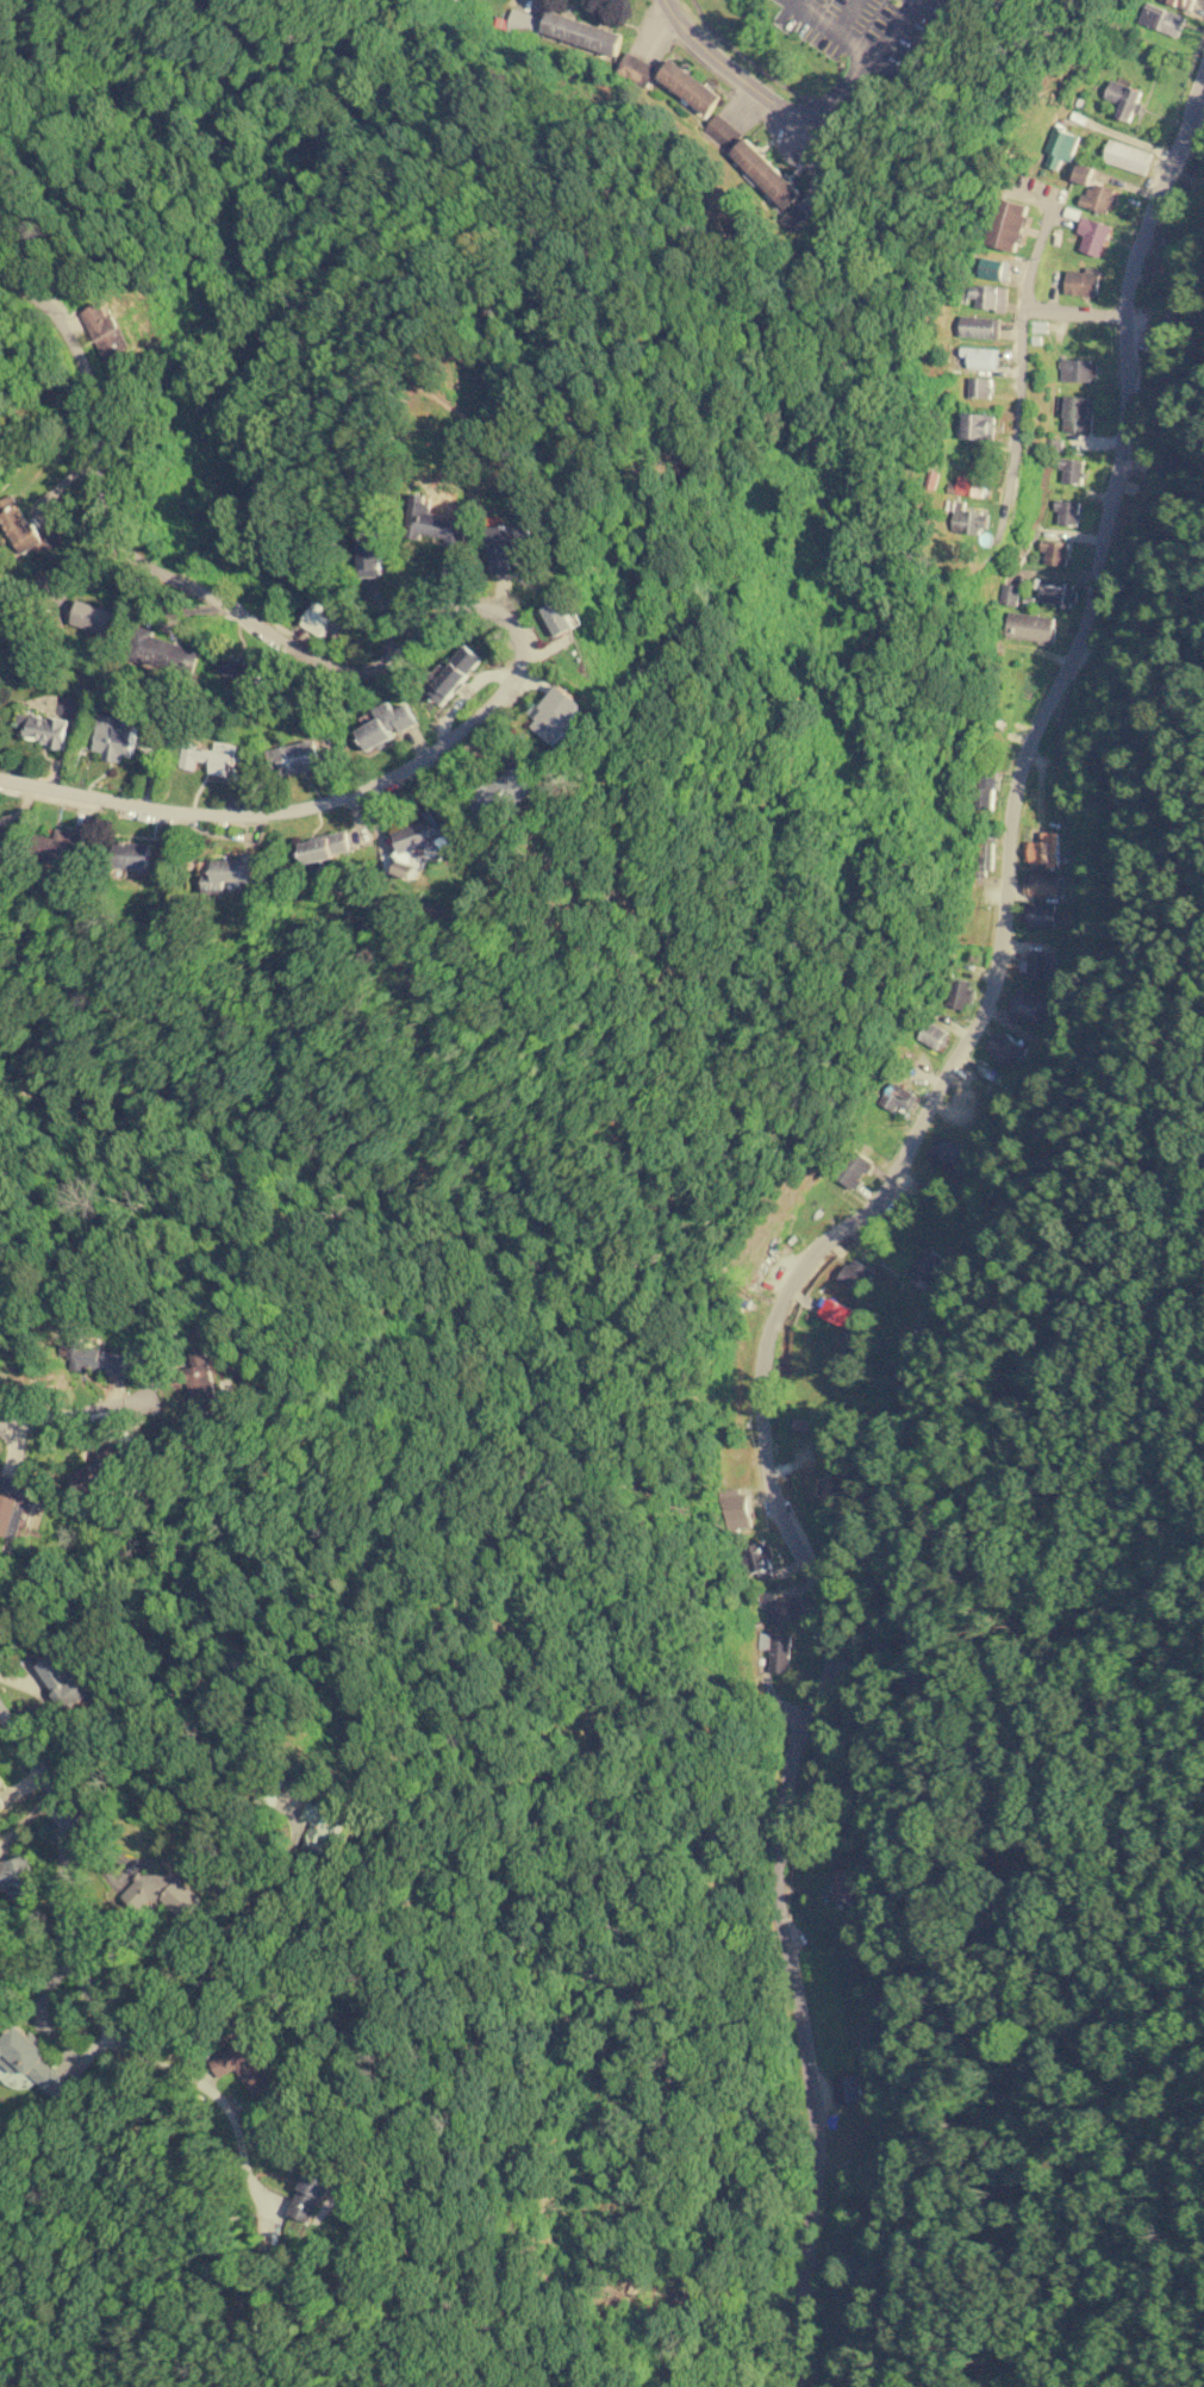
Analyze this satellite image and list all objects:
building: (1181, 2)
building: (1161, 19)
building: (524, 24)
building: (581, 32)
building: (635, 68)
building: (688, 86)
building: (1123, 99)
road: (793, 114)
building: (722, 132)
building: (1059, 147)
building: (766, 173)
building: (1093, 189)
building: (793, 218)
building: (1006, 224)
building: (1092, 235)
building: (991, 268)
building: (1081, 282)
building: (988, 297)
road: (1022, 308)
building: (979, 326)
building: (110, 336)
building: (979, 357)
building: (1078, 370)
building: (979, 387)
building: (1075, 413)
building: (979, 426)
road: (1018, 431)
building: (1071, 469)
building: (1066, 511)
building: (965, 519)
building: (430, 521)
building: (29, 529)
building: (506, 543)
building: (1055, 551)
building: (372, 556)
building: (1050, 591)
building: (1009, 594)
road: (218, 604)
building: (317, 615)
building: (557, 617)
building: (92, 618)
building: (1030, 627)
building: (161, 652)
building: (241, 668)
building: (454, 674)
building: (555, 715)
building: (386, 724)
building: (43, 728)
building: (116, 737)
building: (210, 758)
building: (293, 759)
building: (514, 783)
building: (984, 792)
road: (247, 814)
building: (423, 839)
building: (61, 847)
building: (324, 847)
building: (1, 849)
building: (1043, 849)
building: (131, 855)
building: (229, 873)
building: (1041, 884)
building: (1041, 915)
building: (1042, 966)
building: (957, 992)
building: (1028, 1005)
building: (934, 1036)
building: (1003, 1047)
building: (897, 1097)
building: (943, 1153)
building: (853, 1168)
road: (849, 1221)
building: (929, 1265)
building: (855, 1274)
building: (837, 1313)
building: (93, 1358)
road: (923, 1371)
building: (202, 1377)
road: (79, 1417)
building: (102, 1463)
building: (12, 1506)
building: (735, 1509)
building: (756, 1562)
building: (780, 1608)
building: (776, 1650)
building: (61, 1681)
building: (0, 1783)
building: (1, 1803)
building: (320, 1826)
building: (18, 1878)
building: (160, 1883)
building: (843, 1884)
building: (182, 1897)
road: (91, 1947)
road: (214, 1961)
building: (35, 2063)
building: (242, 2065)
building: (853, 2137)
building: (308, 2194)

